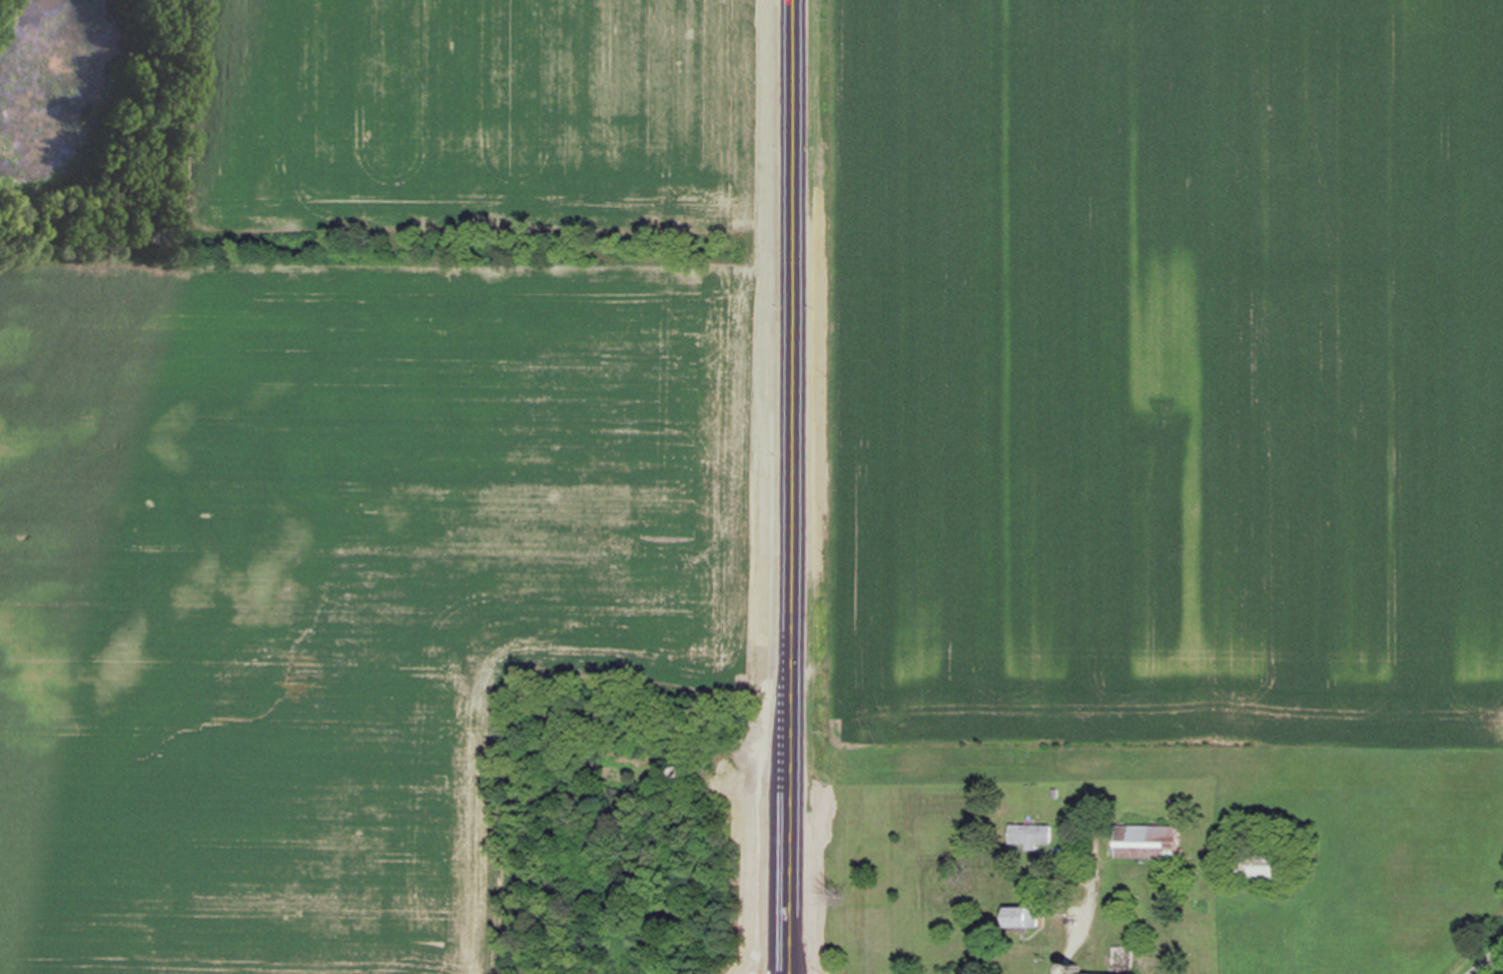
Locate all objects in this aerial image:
road: (798, 487)
building: (1031, 835)
building: (1147, 842)
building: (1261, 868)
building: (1021, 918)
road: (1087, 925)
road: (1496, 965)

